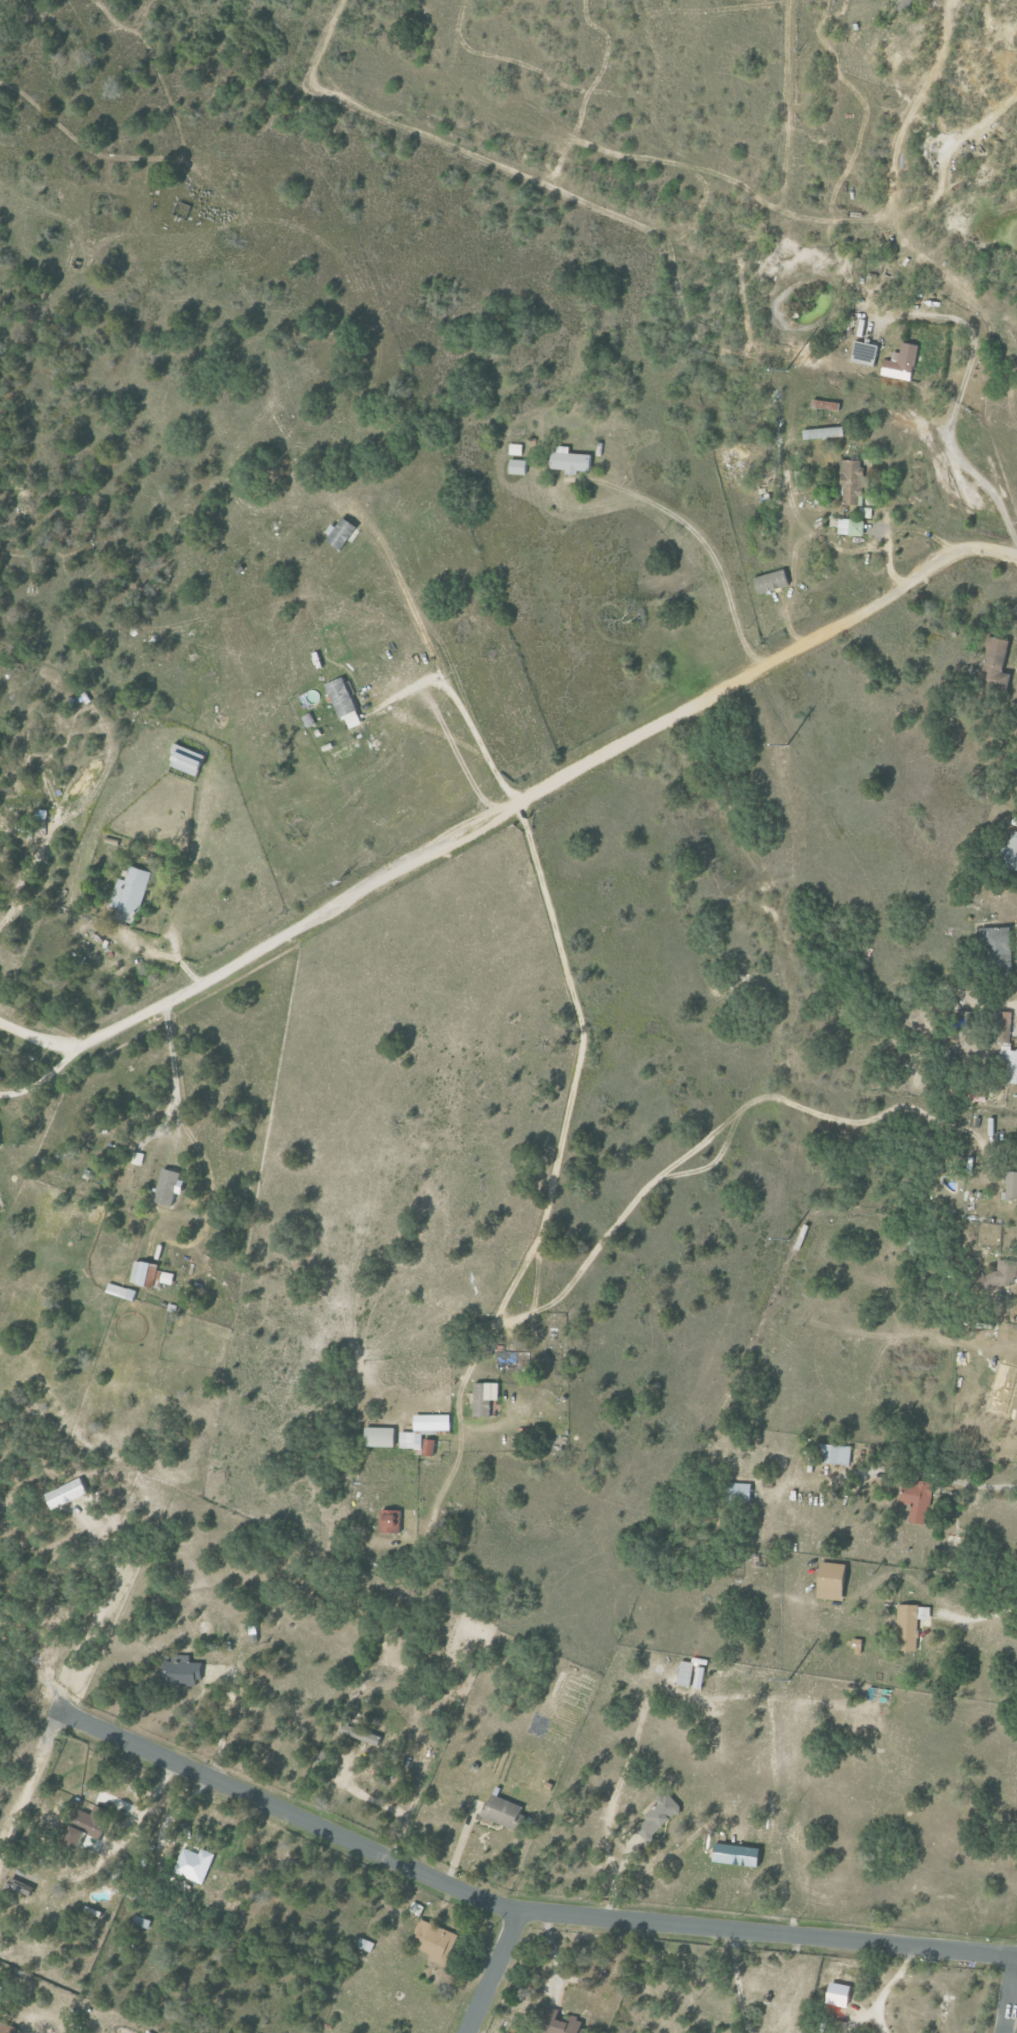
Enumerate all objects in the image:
building: (902, 4)
building: (866, 353)
building: (903, 363)
power tower: (786, 370)
road: (956, 395)
building: (825, 433)
building: (572, 460)
building: (519, 466)
building: (854, 481)
road: (656, 506)
building: (866, 512)
building: (853, 527)
building: (344, 531)
building: (773, 581)
road: (1013, 660)
building: (996, 662)
road: (443, 669)
road: (414, 685)
building: (342, 697)
power tower: (785, 745)
building: (190, 760)
road: (507, 811)
building: (1012, 851)
building: (131, 890)
building: (998, 946)
road: (163, 953)
building: (1003, 1017)
road: (579, 1023)
building: (1011, 1063)
road: (39, 1079)
road: (174, 1095)
road: (716, 1128)
building: (0, 1142)
building: (1010, 1185)
building: (170, 1187)
power tower: (786, 1239)
building: (1001, 1274)
building: (151, 1275)
building: (122, 1292)
road: (504, 1297)
road: (463, 1375)
building: (486, 1398)
building: (424, 1430)
building: (382, 1437)
building: (430, 1448)
building: (834, 1454)
road: (984, 1486)
building: (738, 1492)
building: (915, 1500)
building: (392, 1522)
building: (828, 1581)
road: (980, 1618)
building: (908, 1625)
building: (182, 1673)
building: (689, 1673)
power tower: (788, 1680)
road: (222, 1721)
building: (361, 1735)
road: (29, 1777)
building: (504, 1811)
building: (656, 1815)
building: (88, 1826)
building: (195, 1864)
road: (505, 1907)
building: (416, 1909)
building: (142, 1922)
building: (435, 1941)
building: (365, 1945)
road: (492, 1971)
road: (736, 1980)
road: (883, 1988)
building: (834, 1994)
road: (1011, 1995)
building: (560, 2023)
building: (7, 2028)

